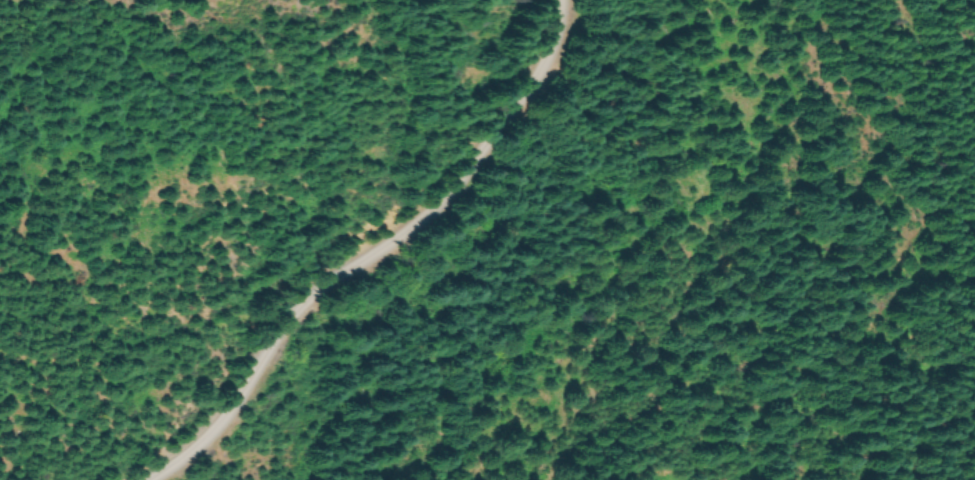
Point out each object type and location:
road: (379, 255)

